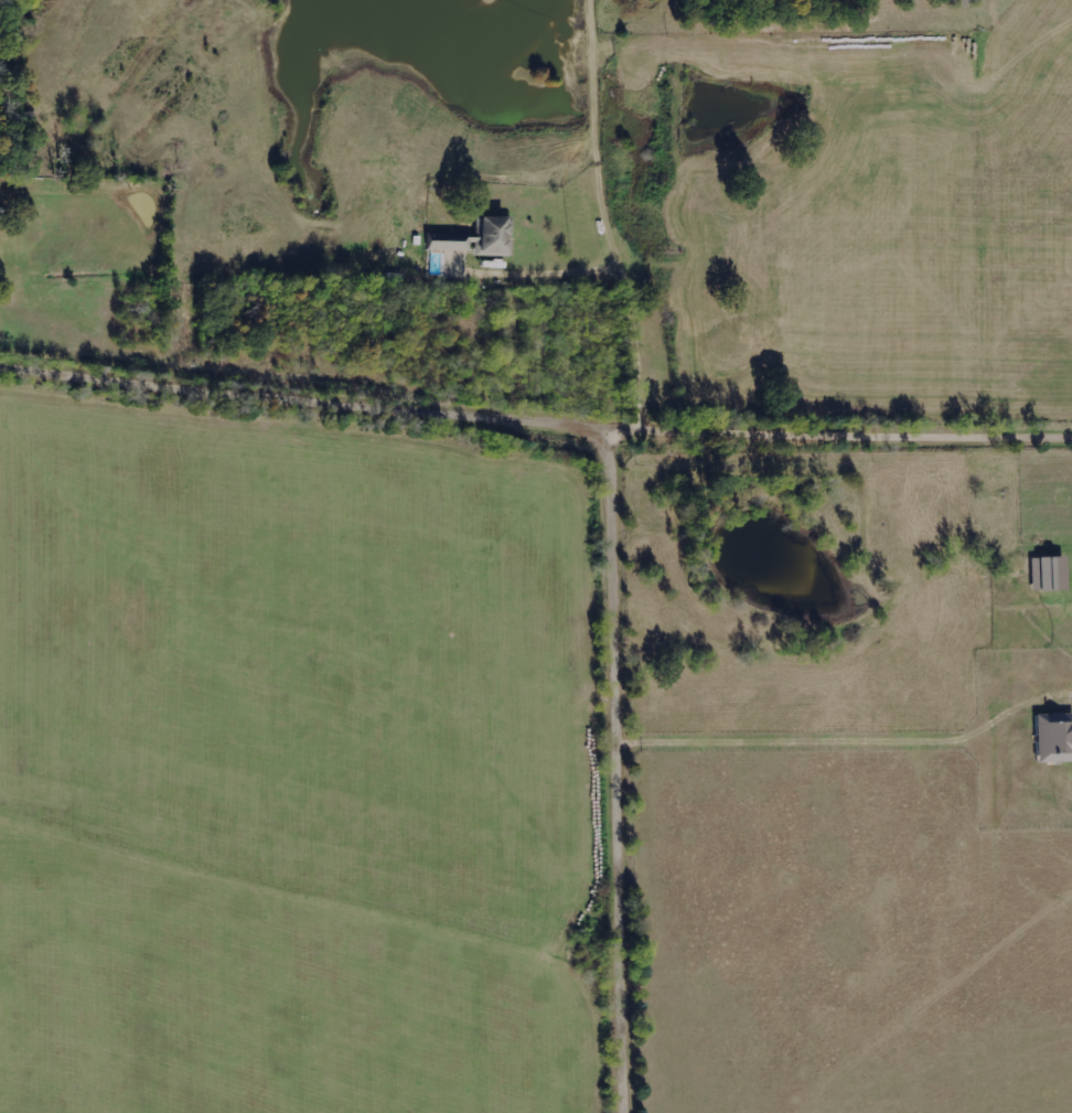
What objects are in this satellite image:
road: (594, 83)
building: (483, 239)
road: (630, 297)
road: (535, 420)
building: (1054, 739)
road: (625, 770)

